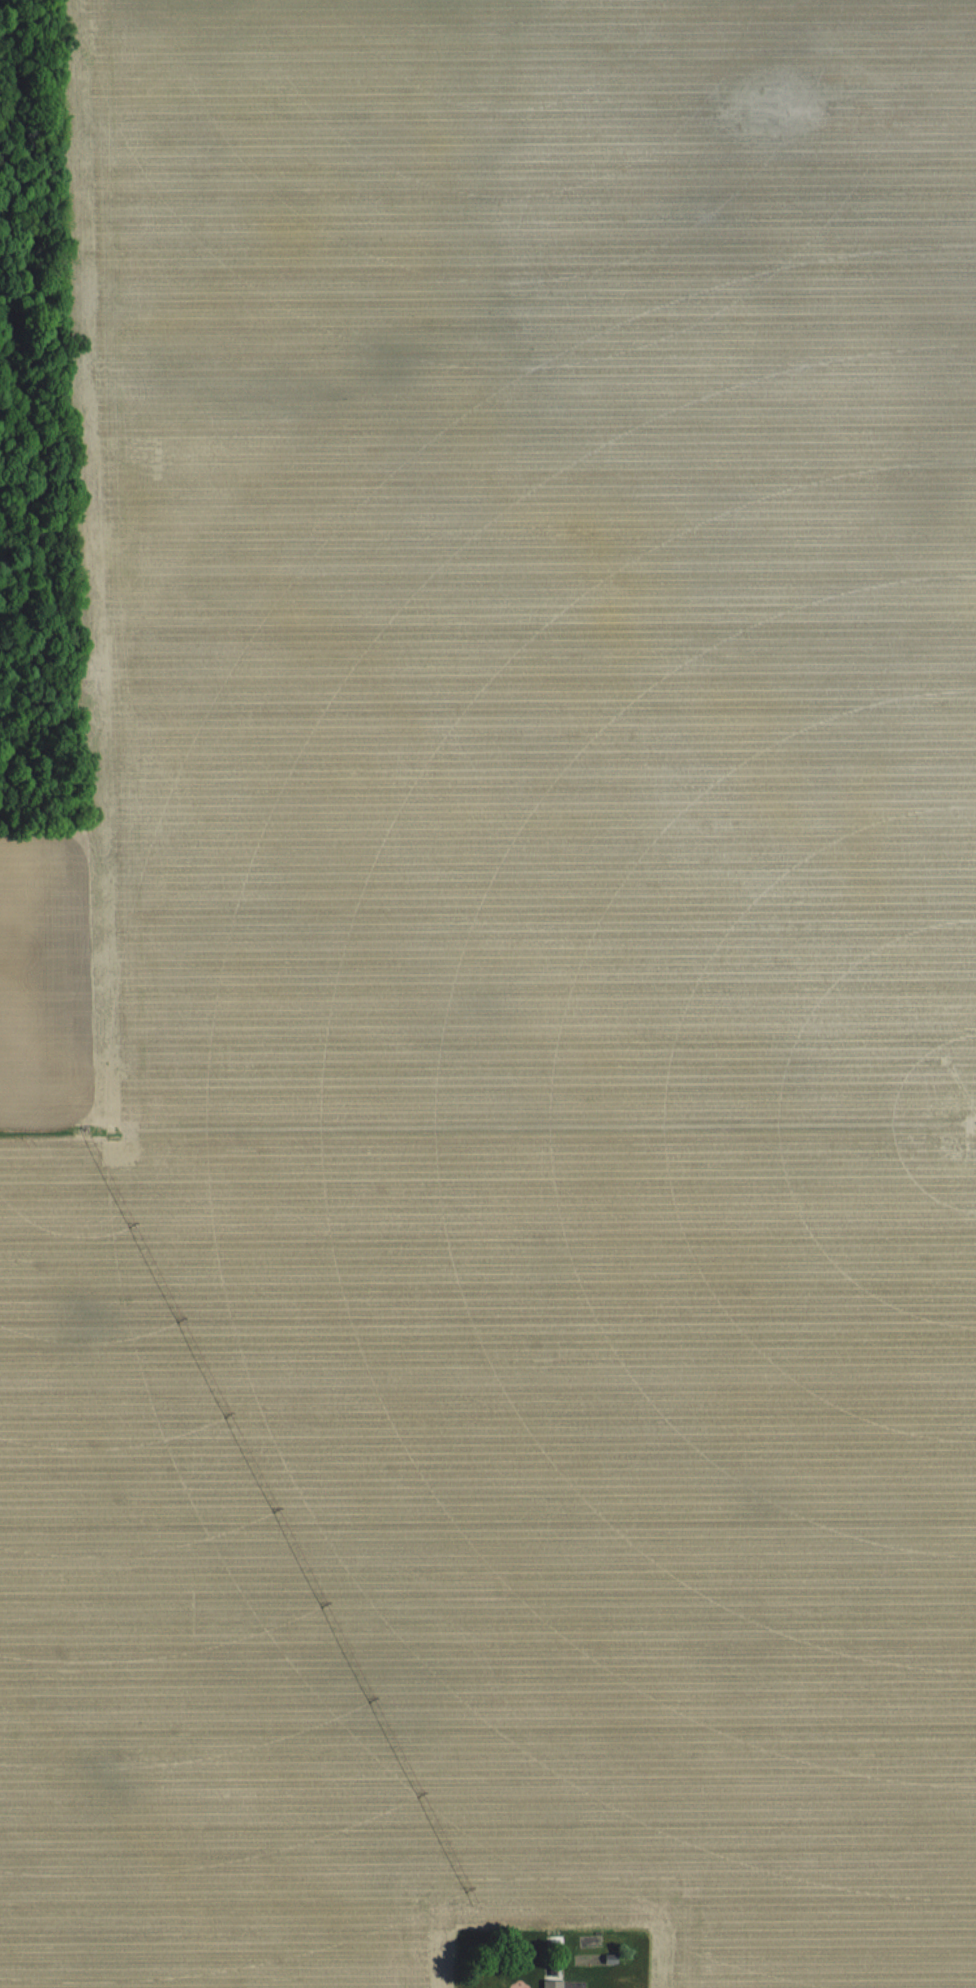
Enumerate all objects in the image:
building: (557, 1983)

